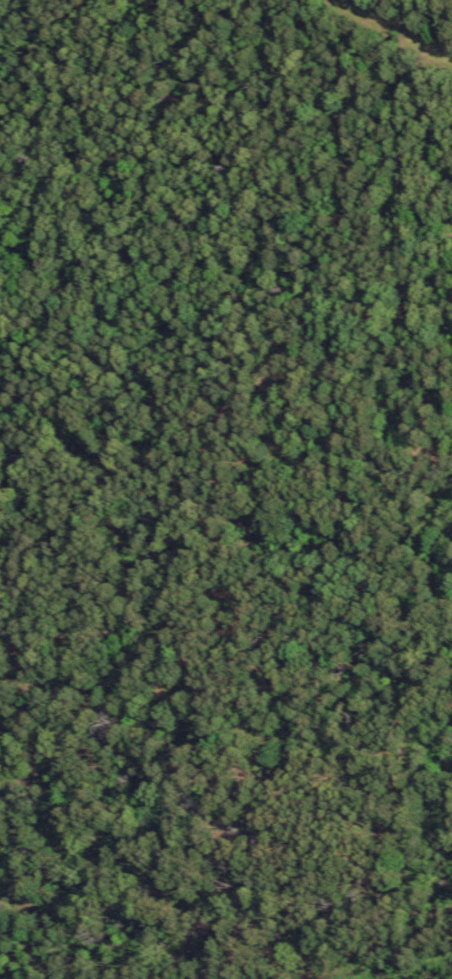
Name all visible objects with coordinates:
park: (224, 726)

